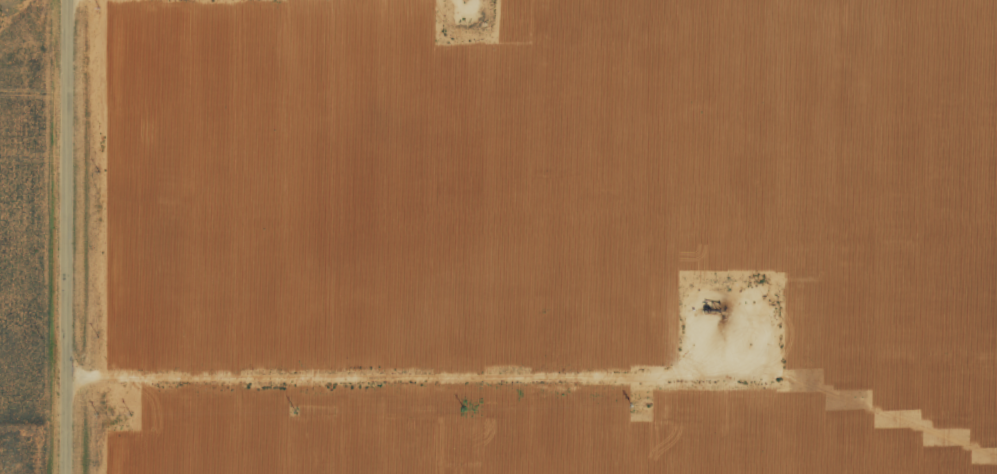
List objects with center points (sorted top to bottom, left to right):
road: (77, 237)
petroleum well: (717, 306)

